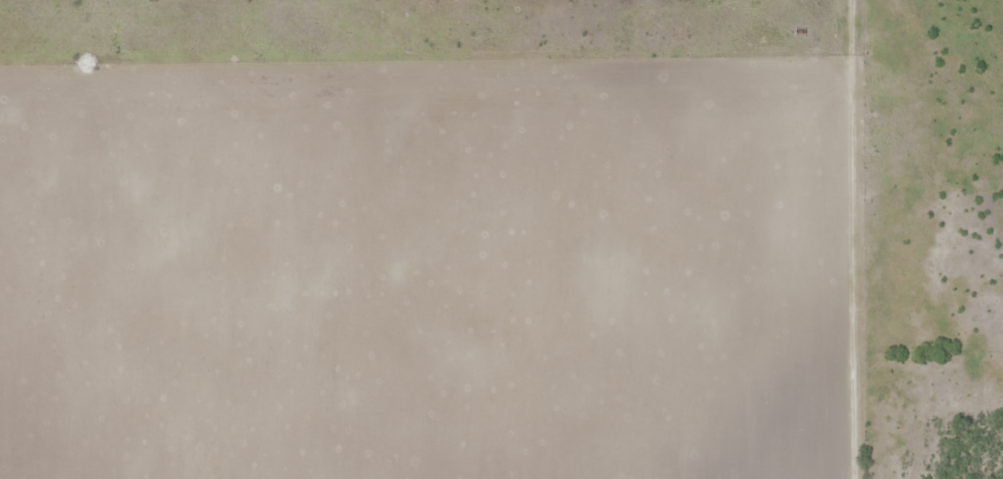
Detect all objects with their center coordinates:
road: (849, 239)

